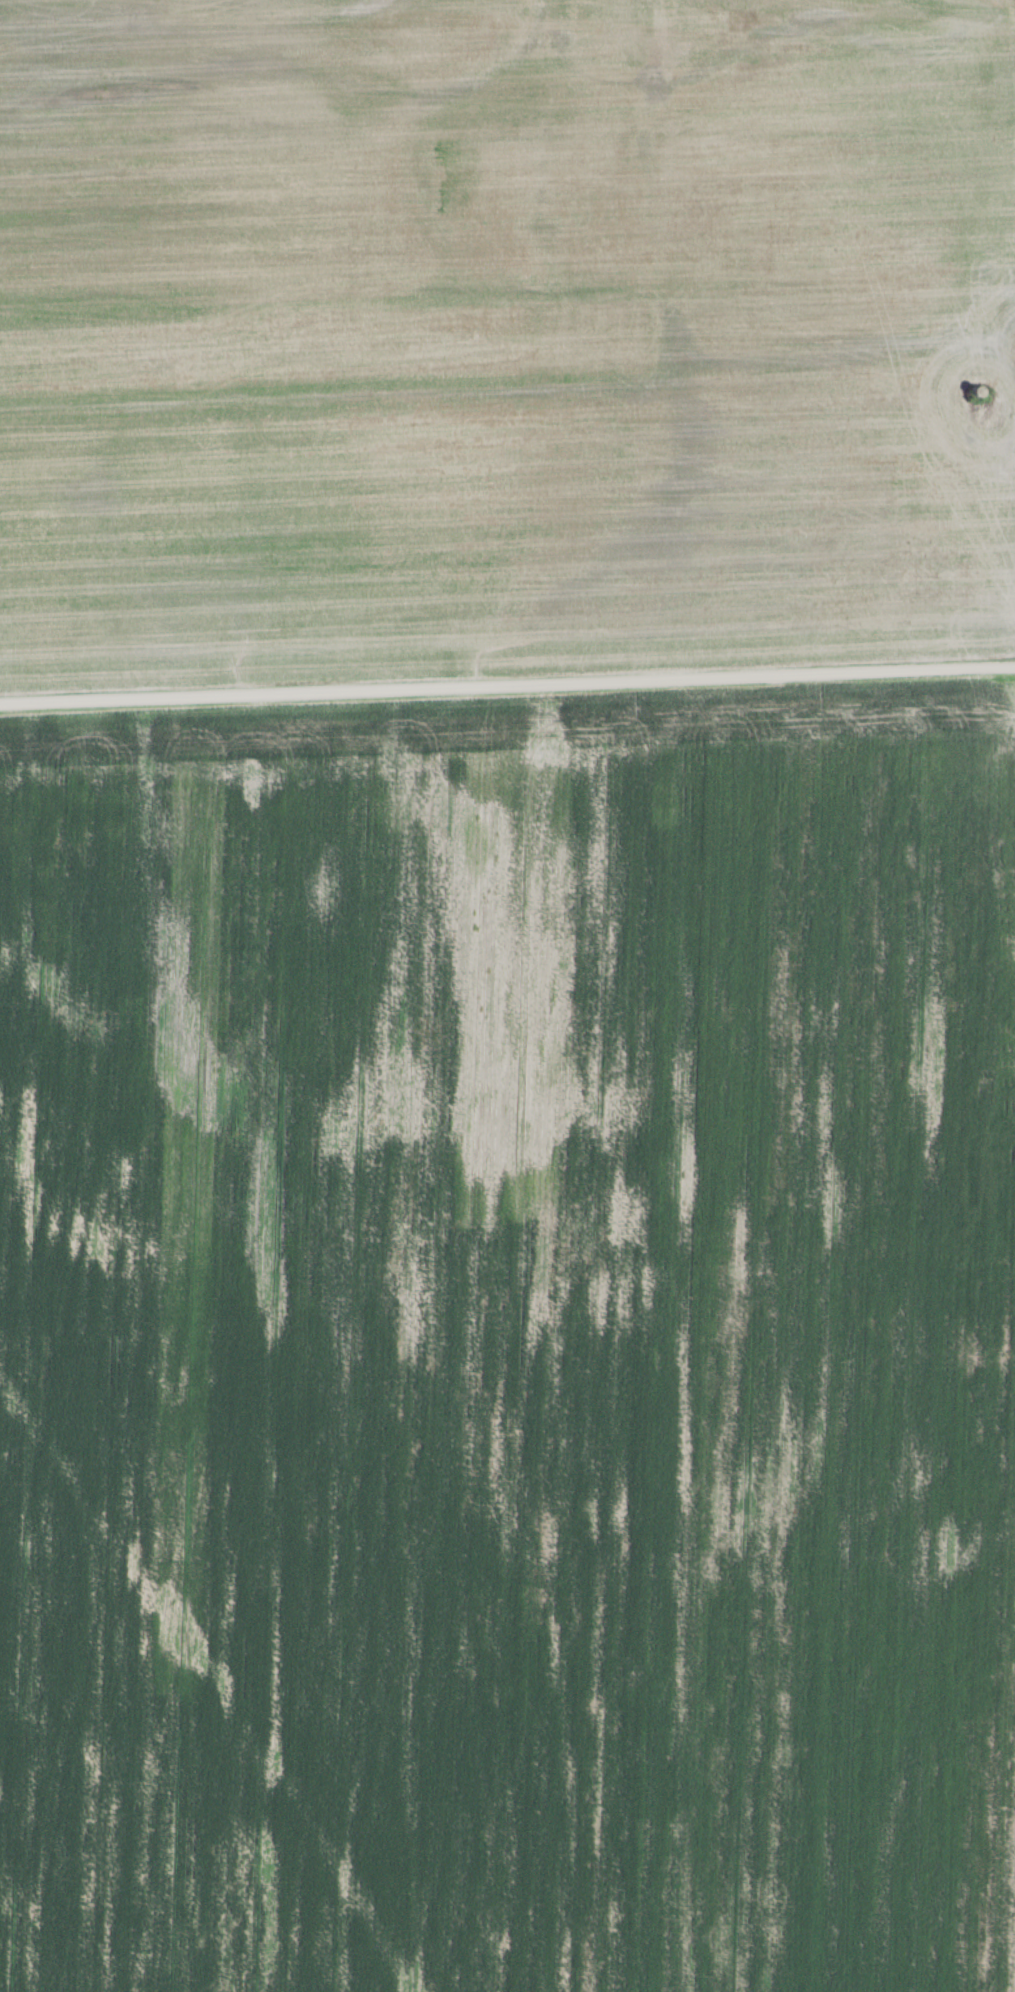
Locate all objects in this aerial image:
crop: (502, 335)
road: (507, 683)
crop: (510, 1349)

